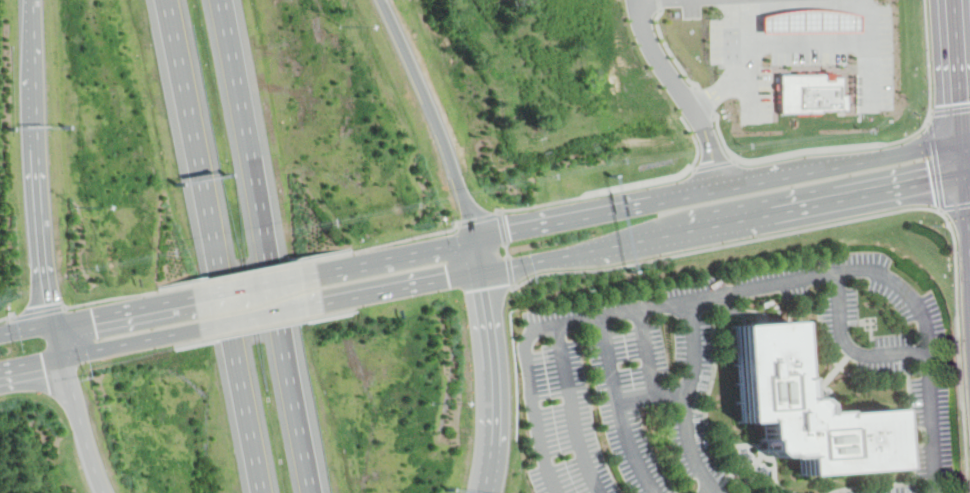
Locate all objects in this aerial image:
road: (651, 2)
road: (664, 6)
building: (808, 21)
road: (37, 39)
road: (805, 45)
road: (871, 47)
road: (670, 55)
parking lot: (874, 57)
road: (738, 66)
road: (188, 69)
road: (959, 70)
parking lot: (751, 81)
road: (683, 92)
building: (809, 93)
traffic signals: (961, 102)
road: (708, 105)
road: (950, 112)
road: (437, 116)
road: (966, 139)
road: (895, 140)
road: (723, 142)
road: (696, 145)
road: (964, 157)
road: (715, 169)
road: (809, 171)
road: (940, 178)
traffic signals: (932, 182)
road: (597, 193)
road: (41, 201)
road: (967, 216)
road: (479, 218)
road: (503, 226)
traffic signals: (512, 233)
road: (480, 239)
road: (640, 240)
road: (276, 245)
road: (732, 245)
road: (380, 246)
road: (507, 250)
road: (480, 256)
road: (255, 271)
road: (511, 273)
traffic signals: (448, 279)
road: (257, 283)
road: (779, 285)
traffic signals: (483, 289)
road: (137, 295)
traffic signals: (48, 303)
road: (131, 308)
road: (730, 308)
road: (41, 315)
road: (236, 315)
road: (263, 315)
traffic signals: (94, 316)
road: (7, 321)
road: (26, 329)
road: (56, 340)
road: (108, 346)
road: (851, 349)
road: (962, 353)
road: (647, 354)
traffic signals: (42, 360)
road: (837, 364)
parking lot: (677, 372)
road: (490, 382)
road: (656, 396)
road: (620, 408)
building: (802, 410)
road: (573, 411)
road: (706, 412)
road: (80, 424)
parking lot: (933, 427)
road: (688, 444)
road: (546, 457)
road: (914, 469)
parking lot: (719, 489)
parking lot: (884, 490)
road: (708, 491)

